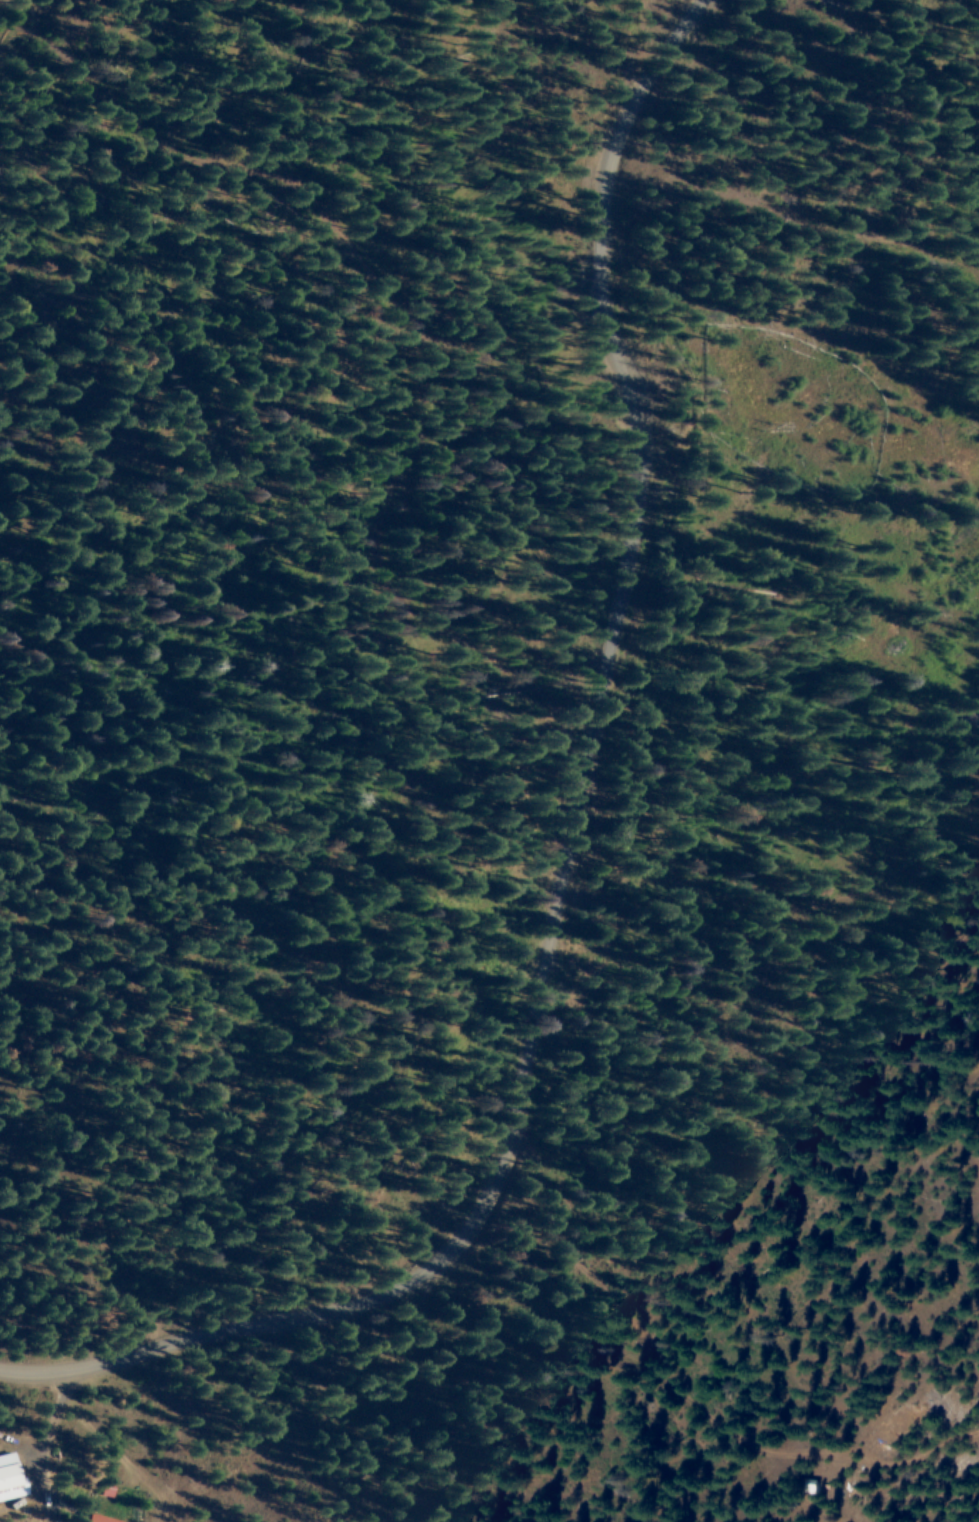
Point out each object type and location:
road: (158, 110)
road: (624, 382)
road: (449, 1240)
building: (10, 1477)
building: (96, 1518)

